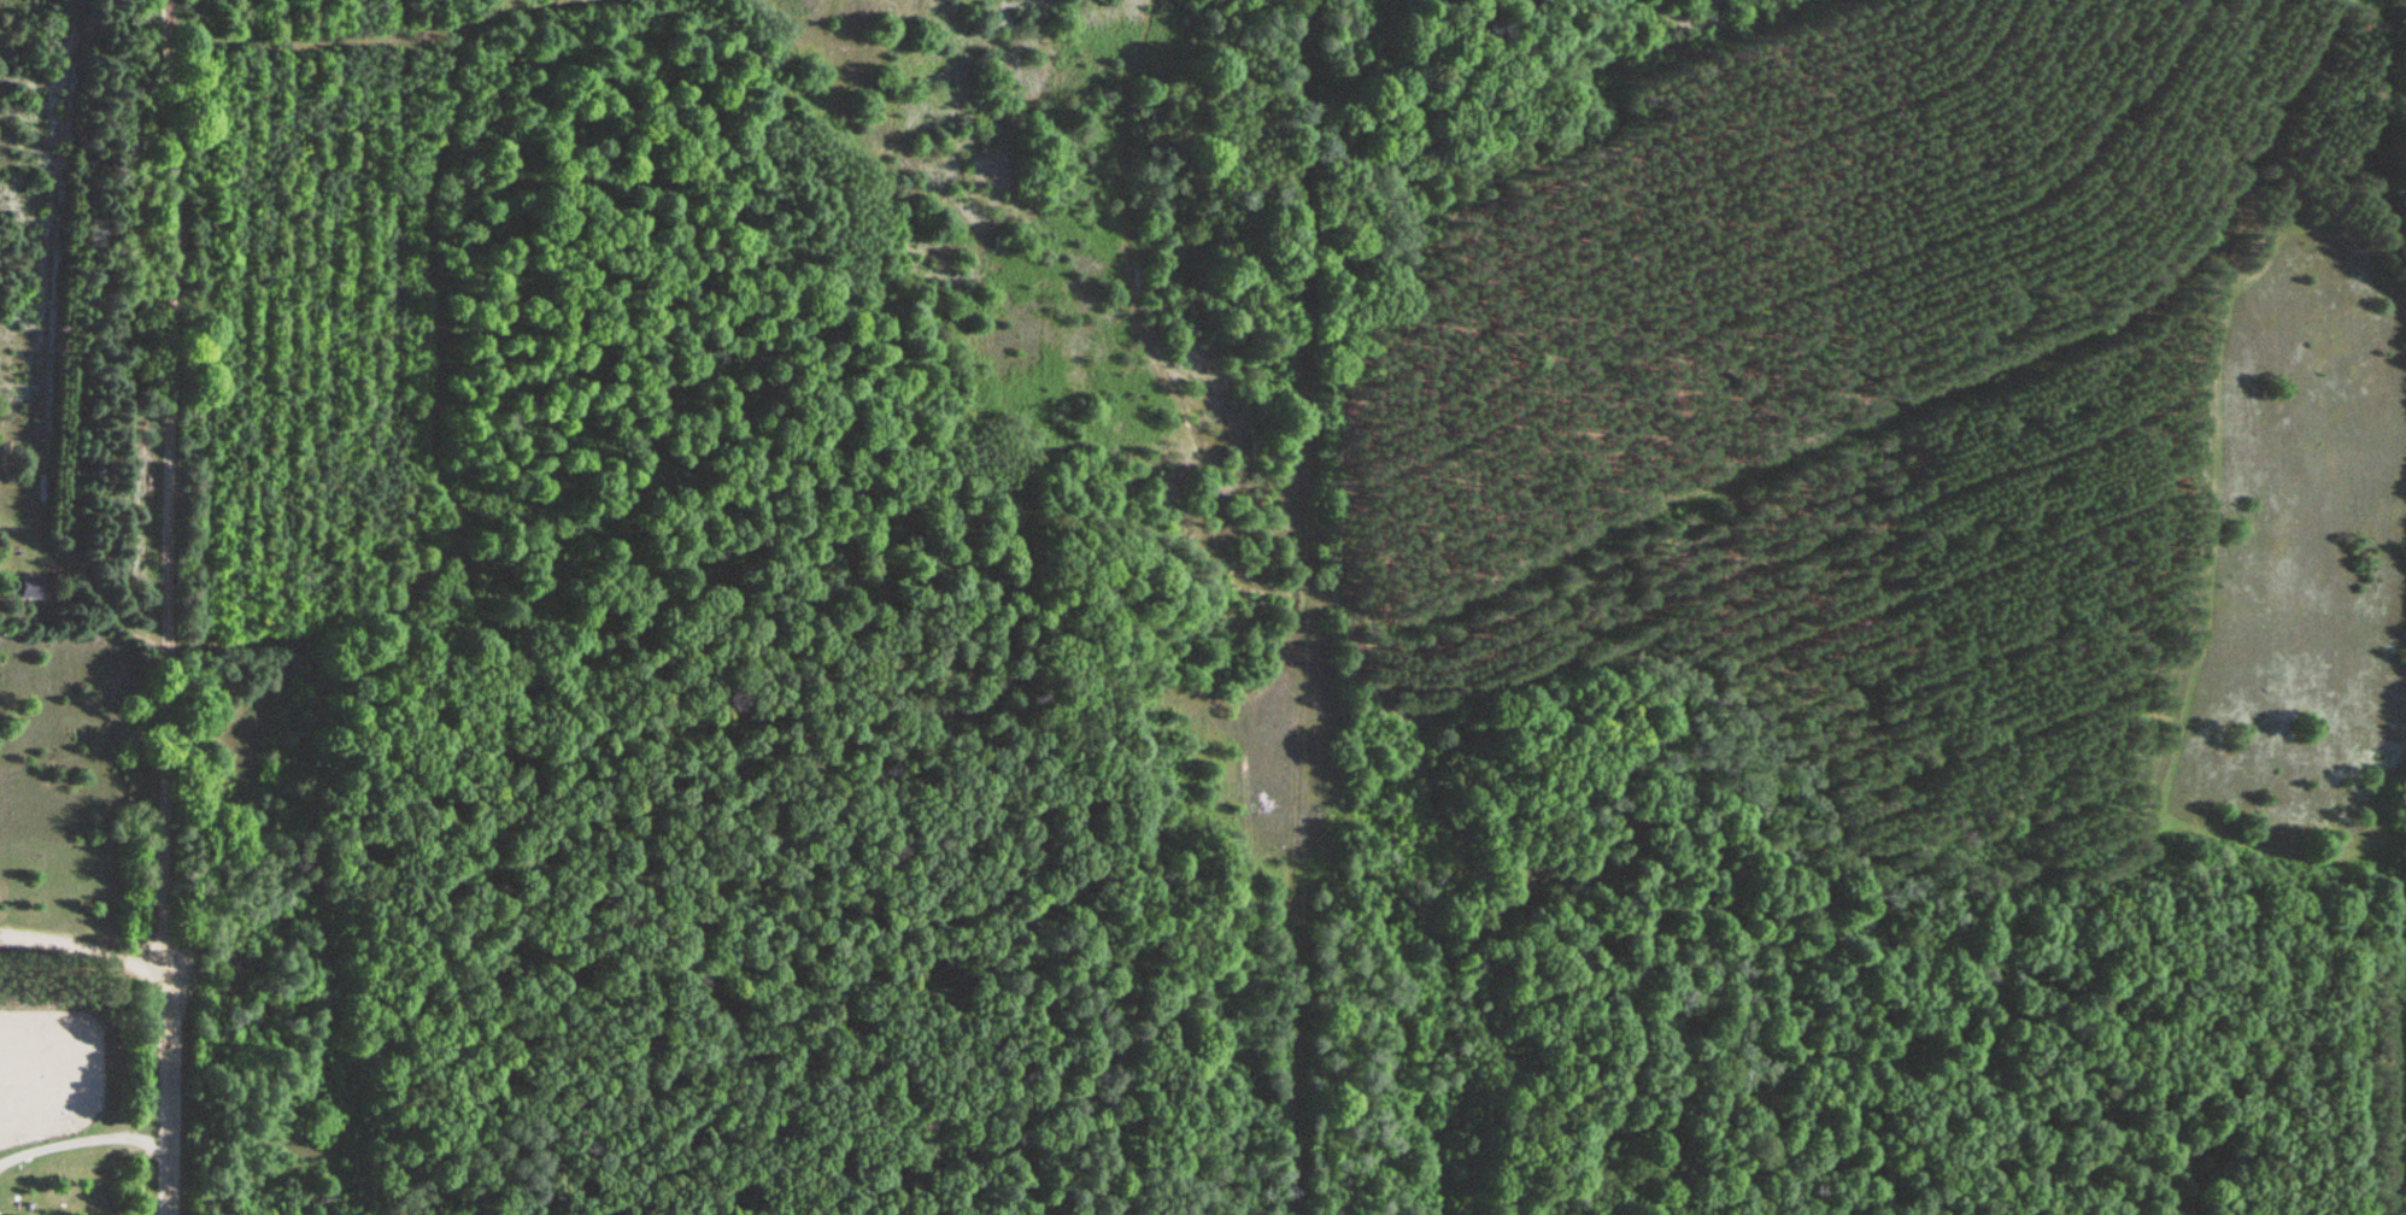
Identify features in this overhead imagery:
building: (844, 74)
road: (1298, 310)
road: (1848, 432)
building: (35, 593)
road: (1225, 595)
road: (163, 606)
road: (1273, 677)
road: (1286, 927)
road: (82, 944)
road: (80, 1144)

